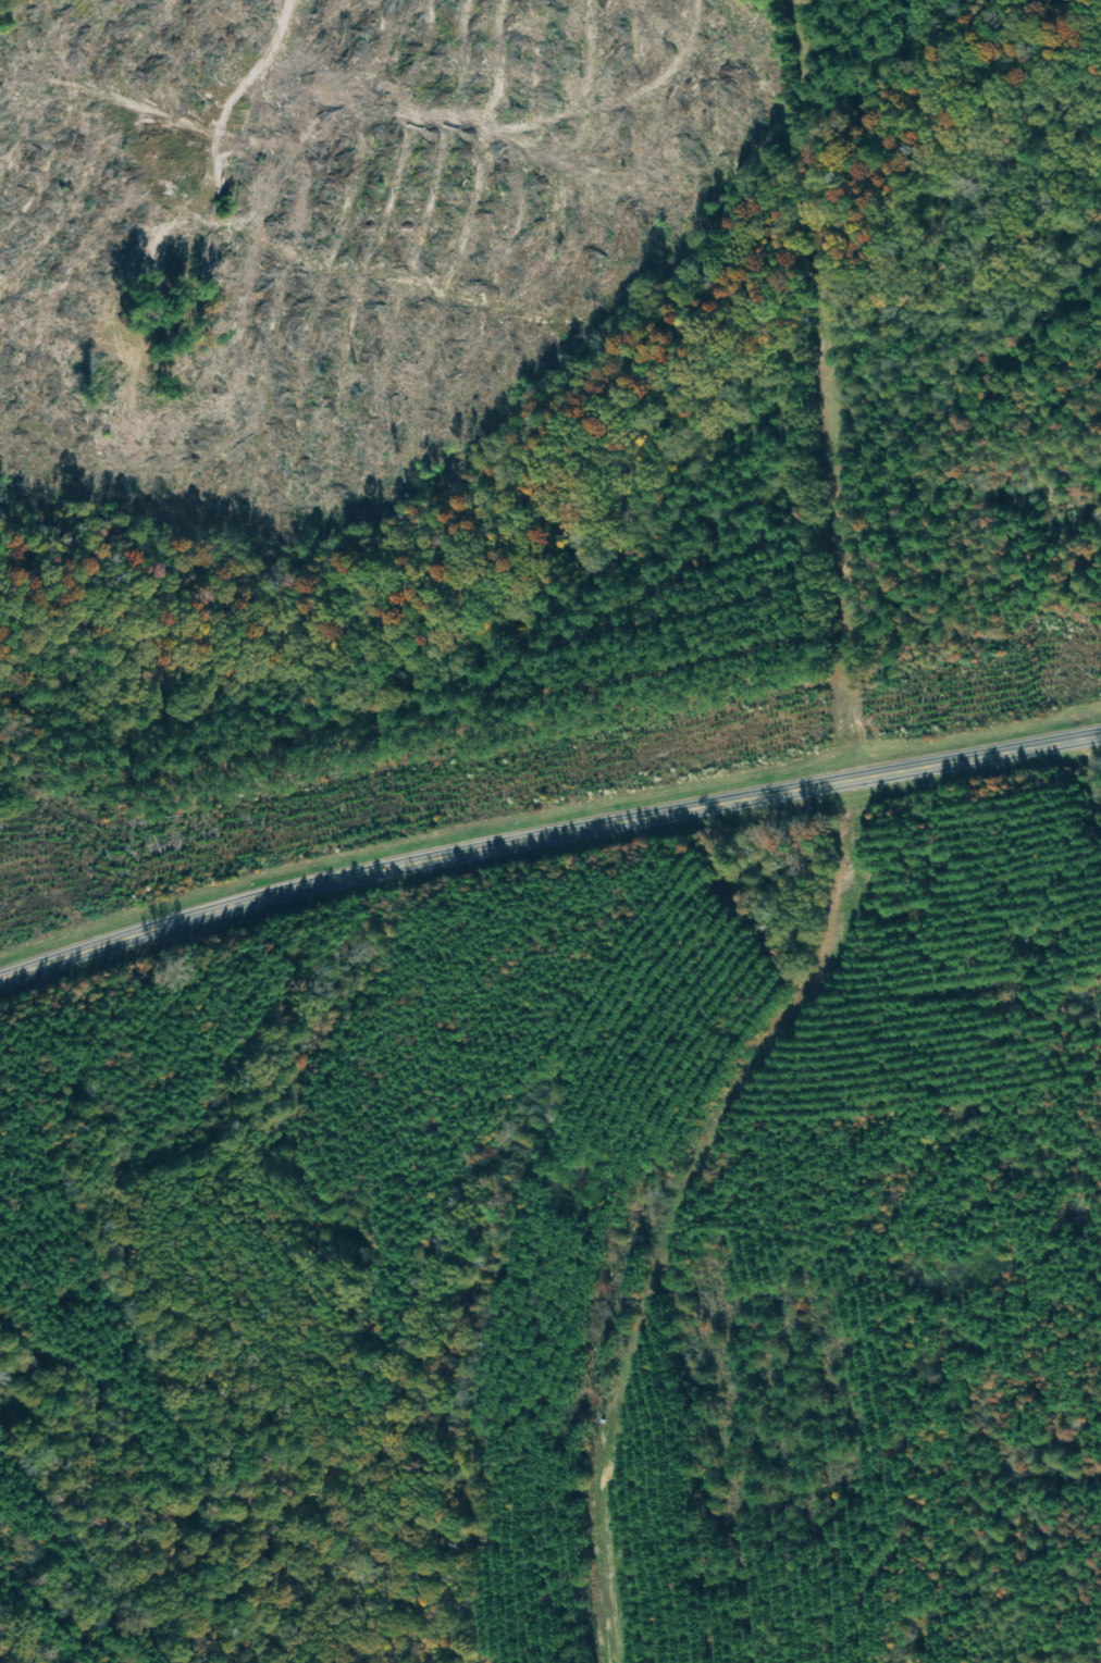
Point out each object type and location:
road: (545, 834)

